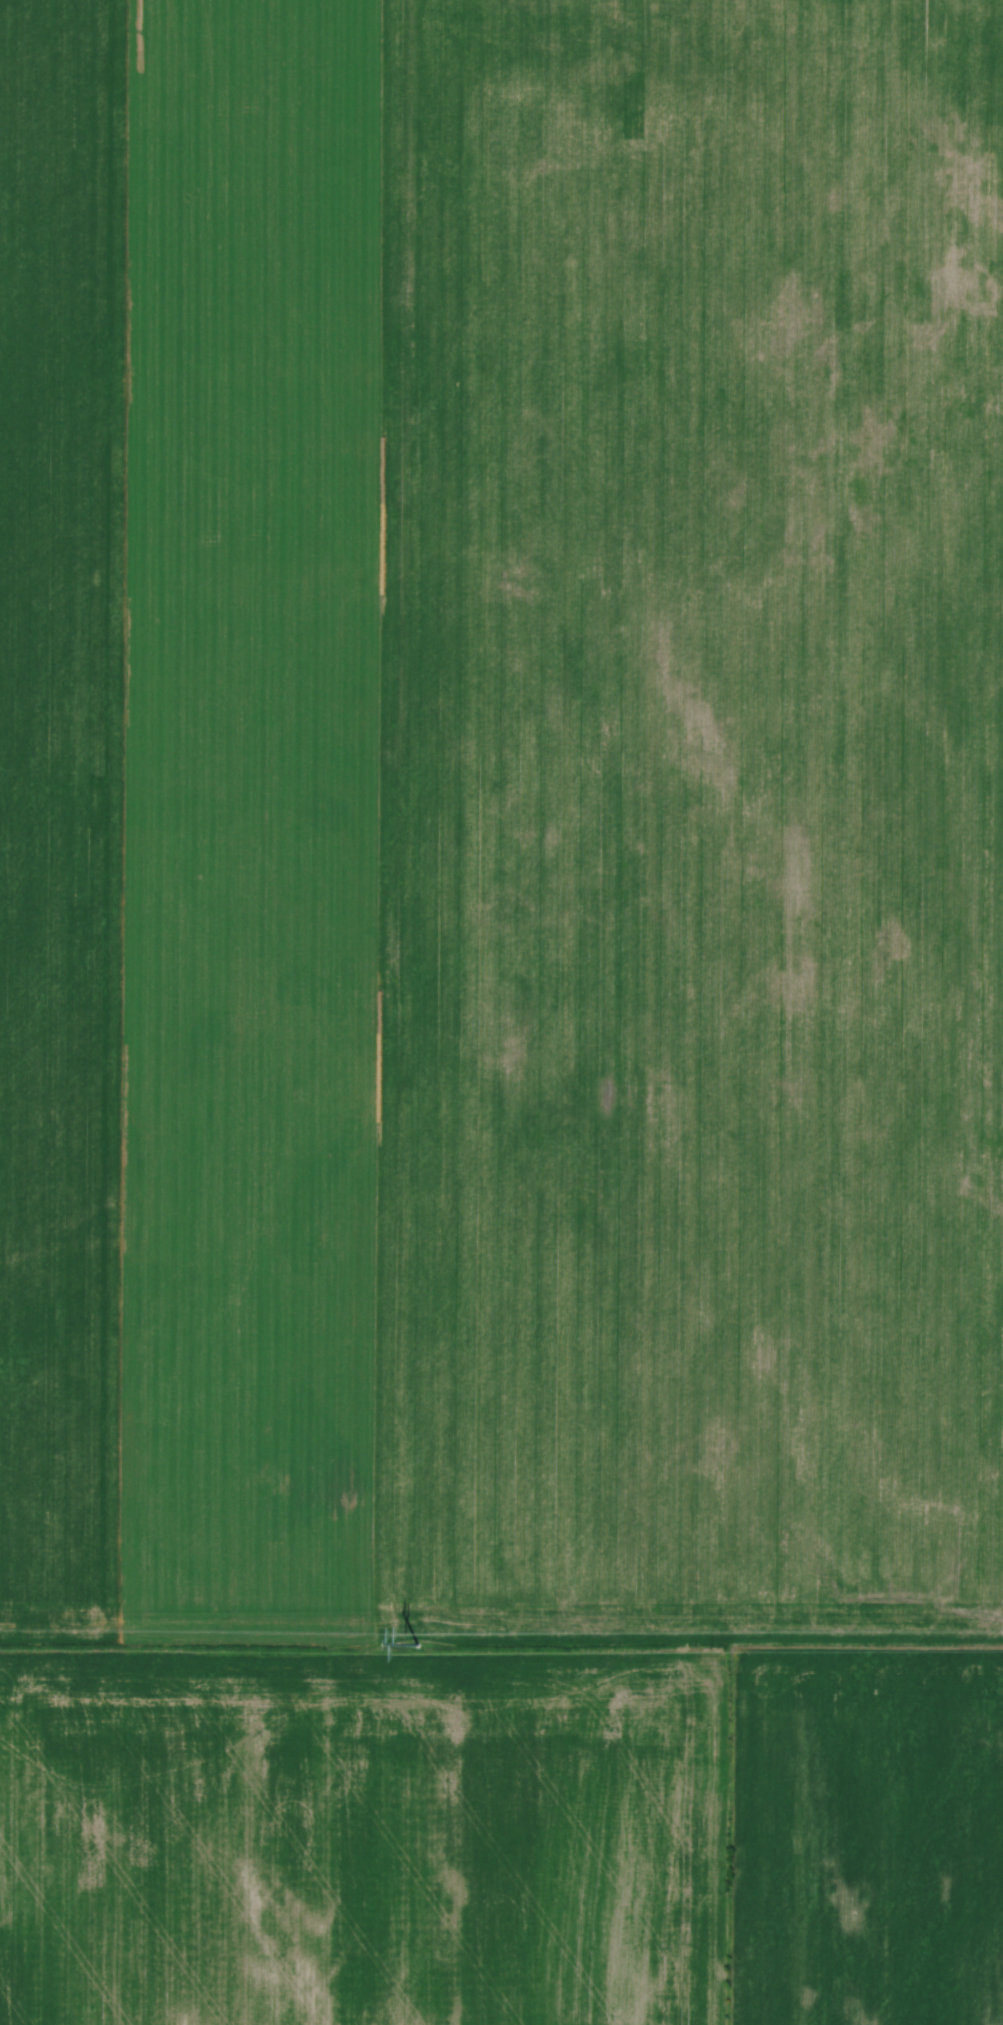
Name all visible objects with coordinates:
power tower: (416, 1645)

